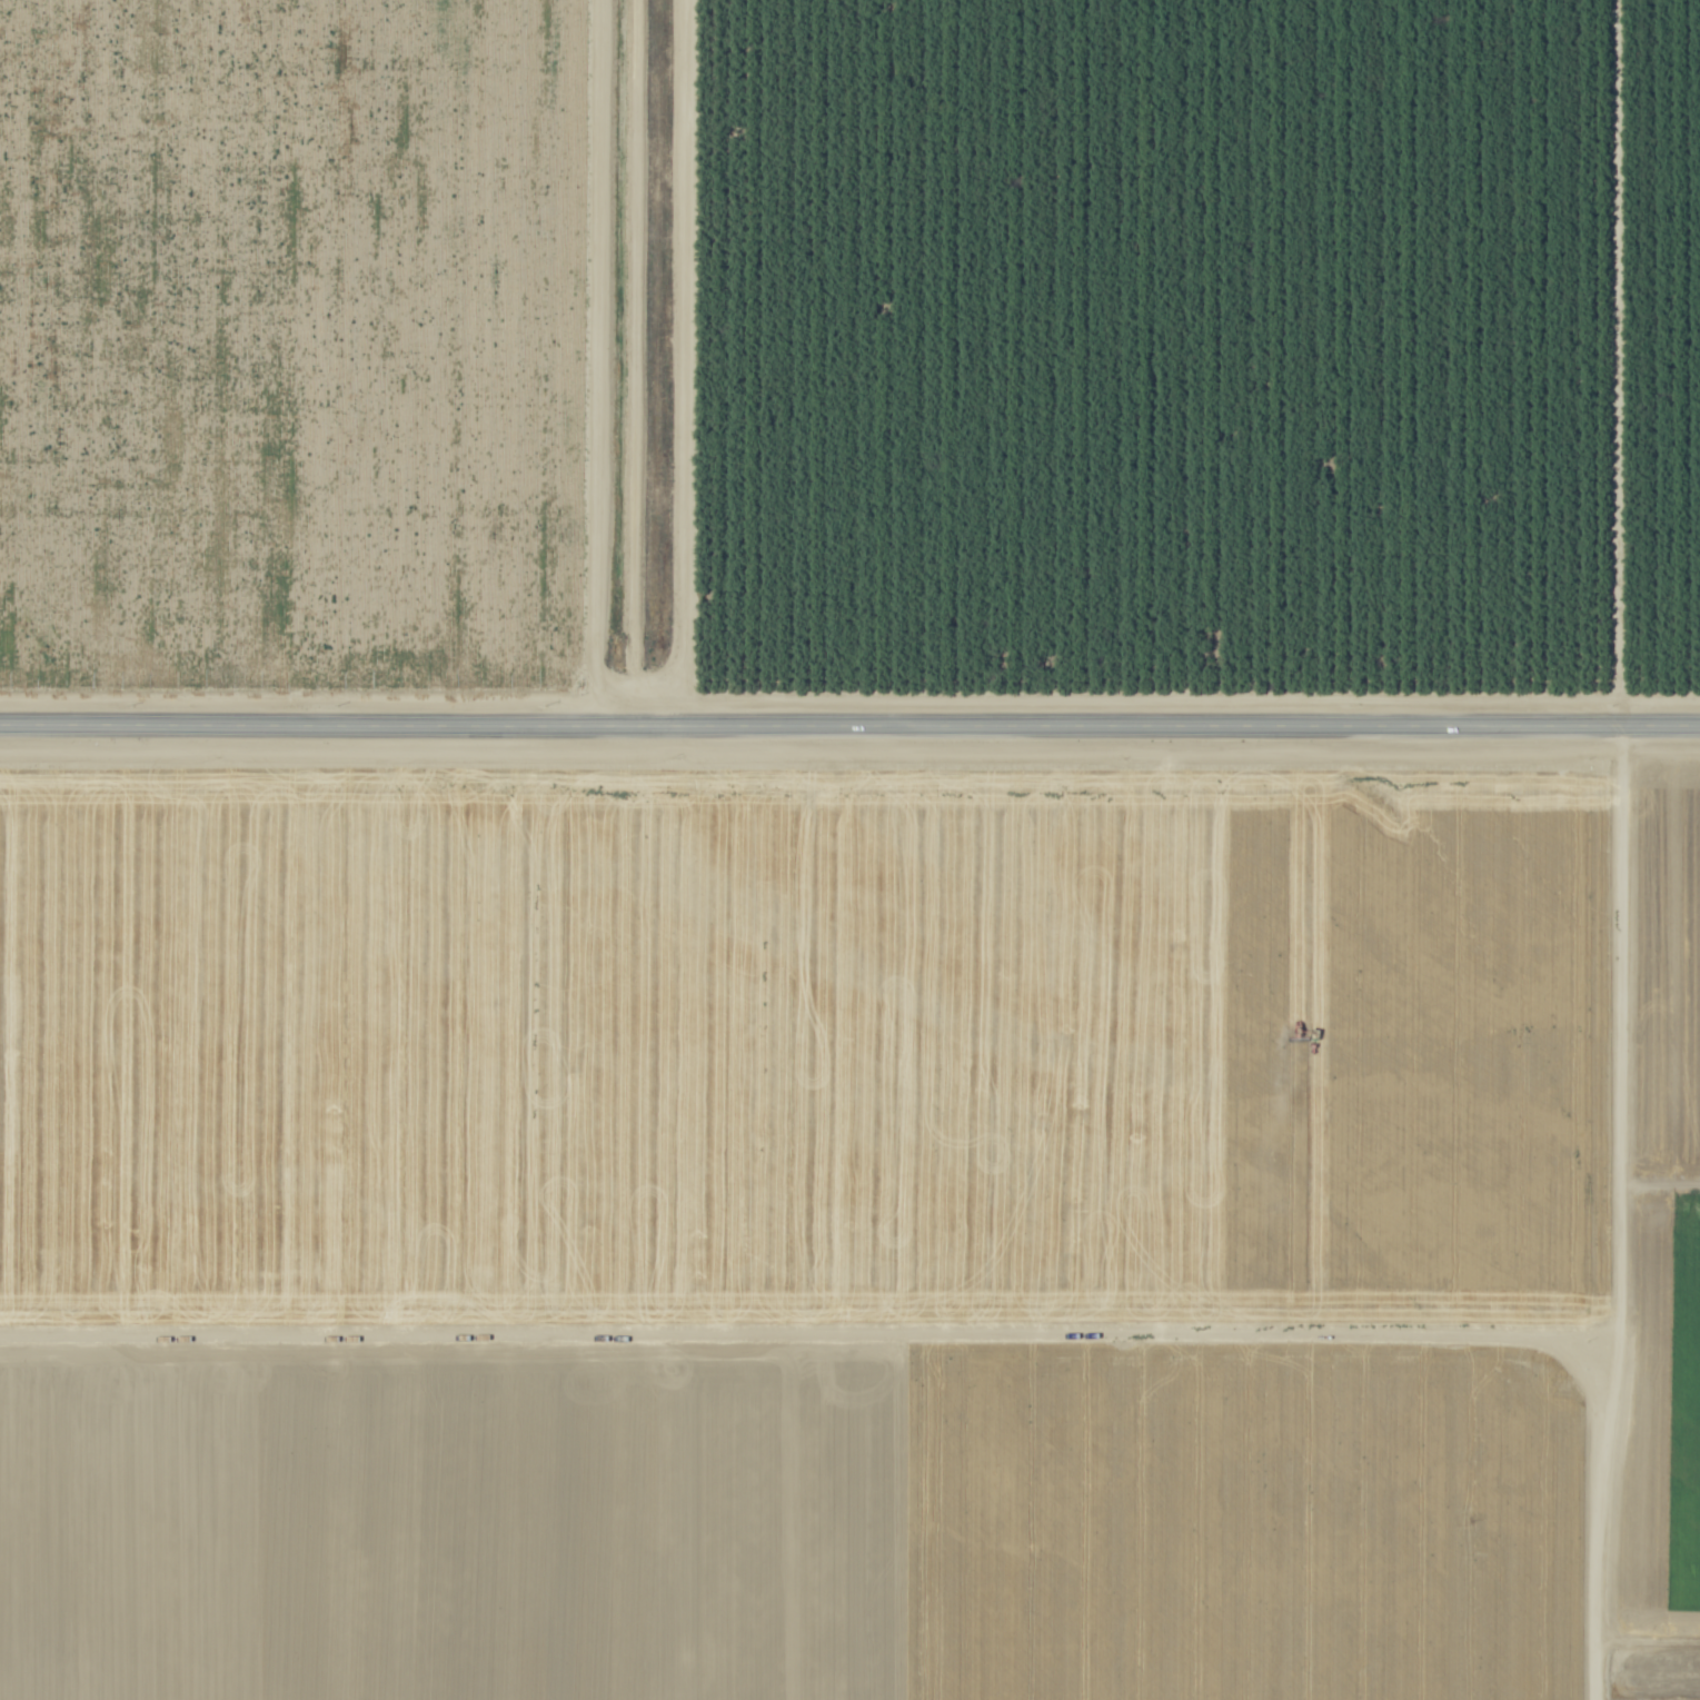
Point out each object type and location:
road: (1619, 360)
road: (672, 361)
road: (849, 722)
road: (1659, 1184)
road: (1619, 1211)
crop: (849, 1221)
road: (1648, 1644)

